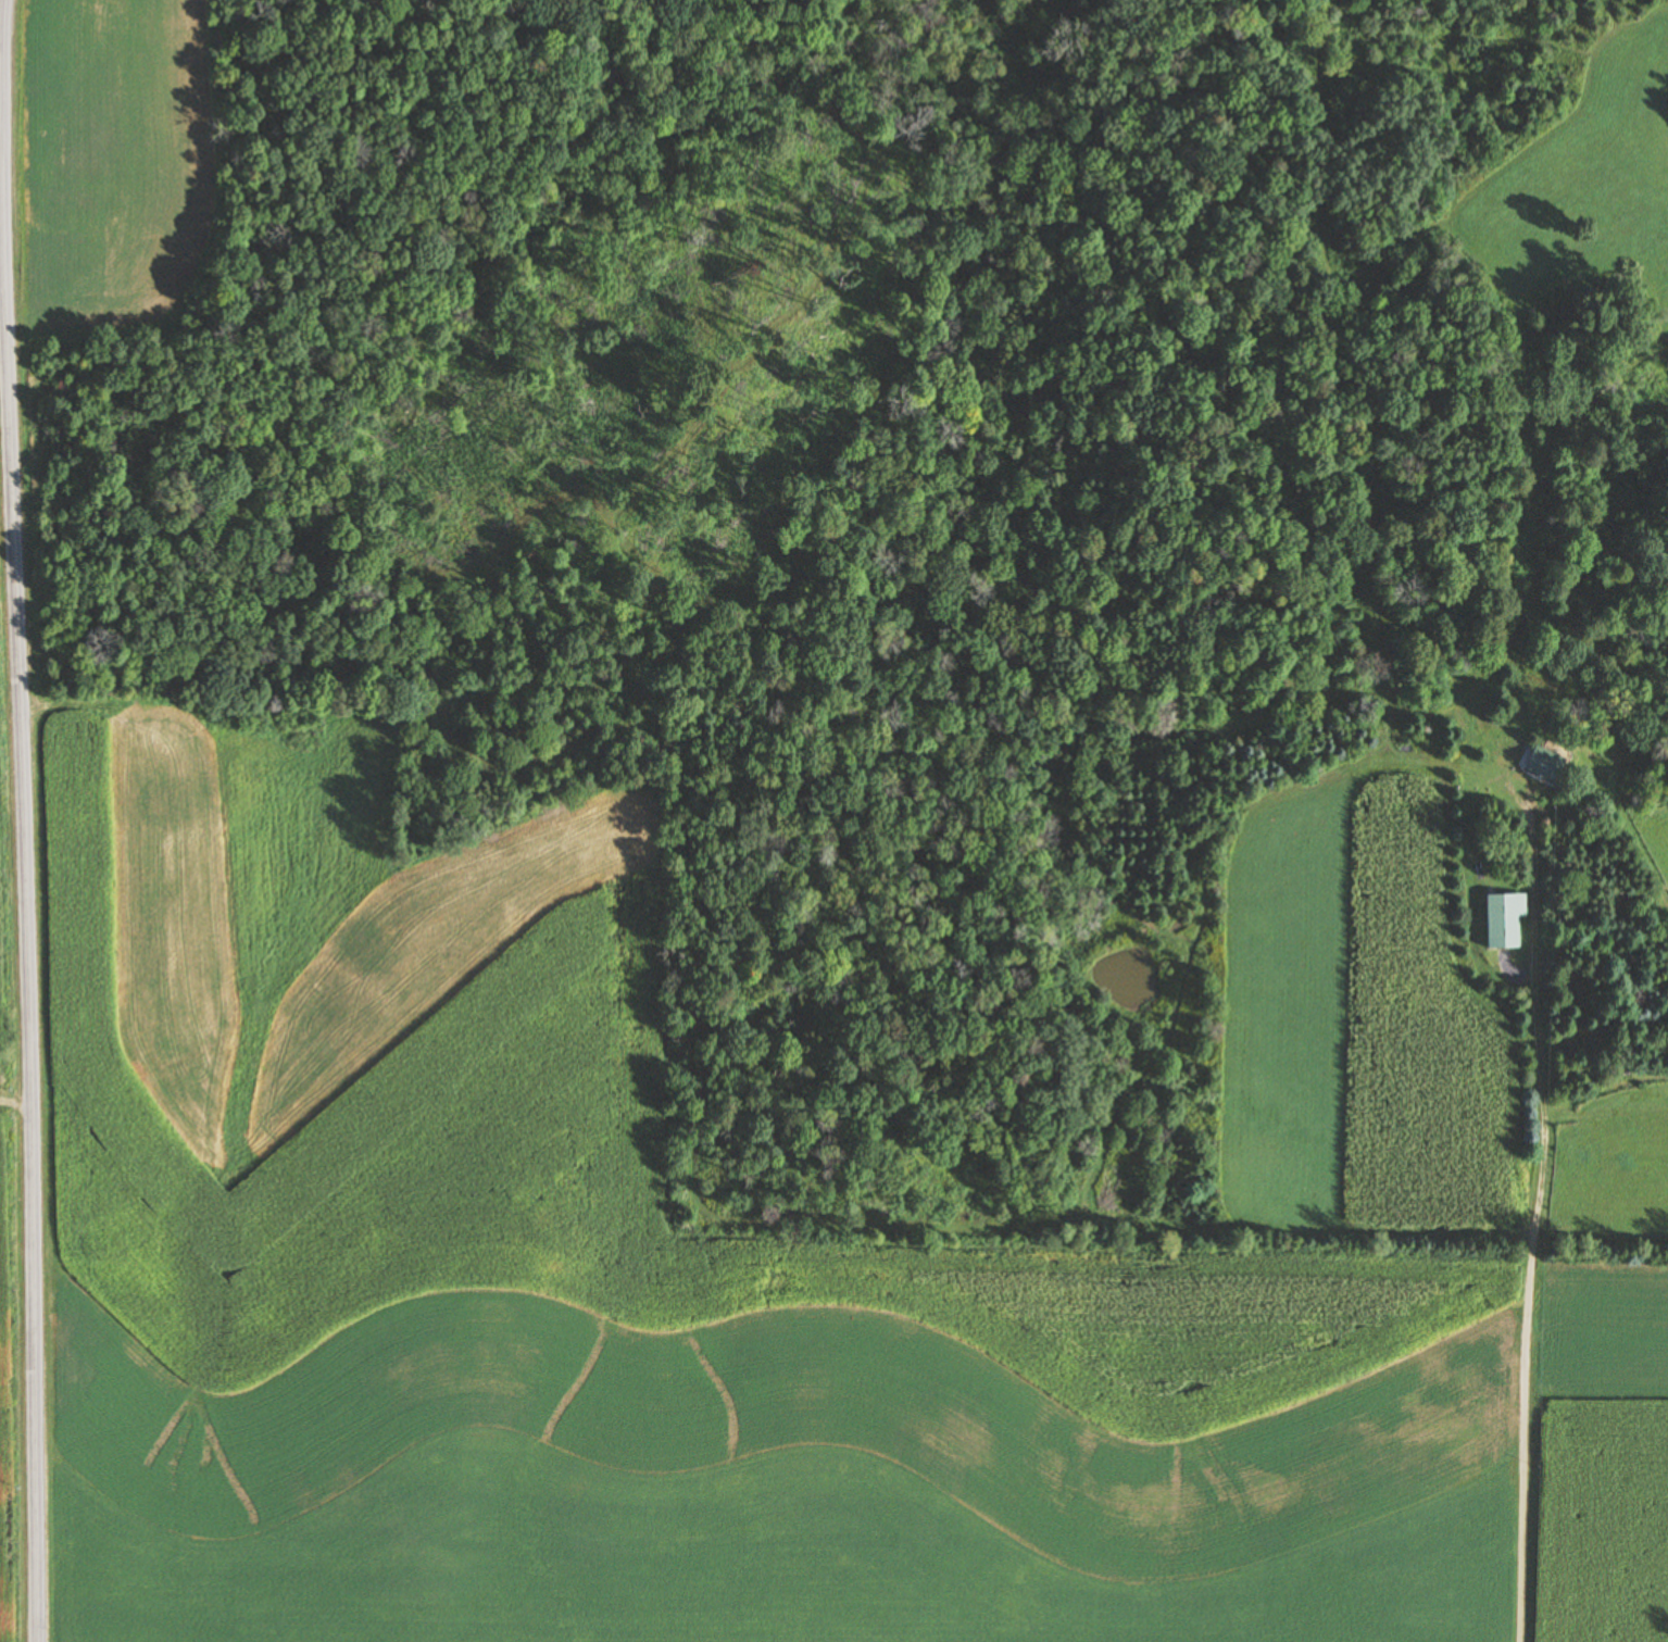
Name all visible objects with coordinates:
building: (1545, 763)
building: (1506, 764)
road: (18, 820)
building: (1505, 922)
road: (936, 1466)

